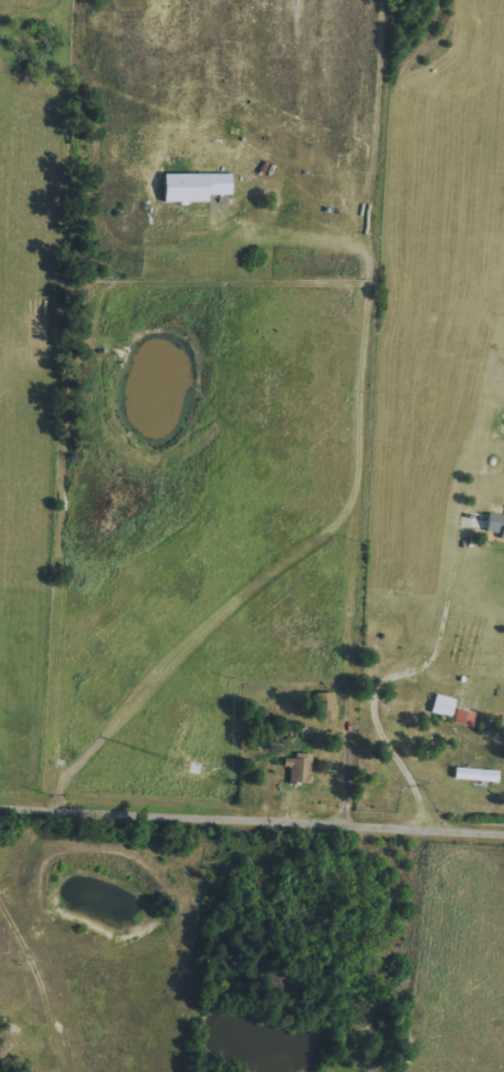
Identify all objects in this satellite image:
building: (198, 187)
building: (496, 524)
road: (389, 679)
building: (325, 701)
building: (444, 706)
building: (465, 718)
building: (300, 769)
building: (479, 776)
road: (251, 815)

